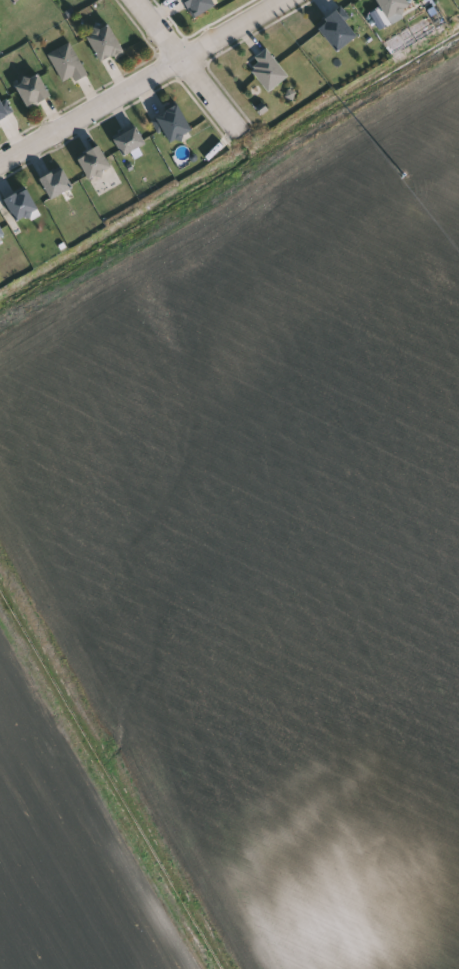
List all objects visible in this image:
building: (16, 1)
building: (200, 6)
building: (393, 7)
building: (0, 22)
building: (338, 32)
building: (106, 44)
building: (69, 63)
road: (193, 67)
building: (271, 70)
road: (146, 85)
building: (34, 91)
building: (6, 112)
building: (174, 124)
building: (130, 141)
building: (95, 163)
building: (57, 183)
building: (22, 205)
building: (2, 232)

